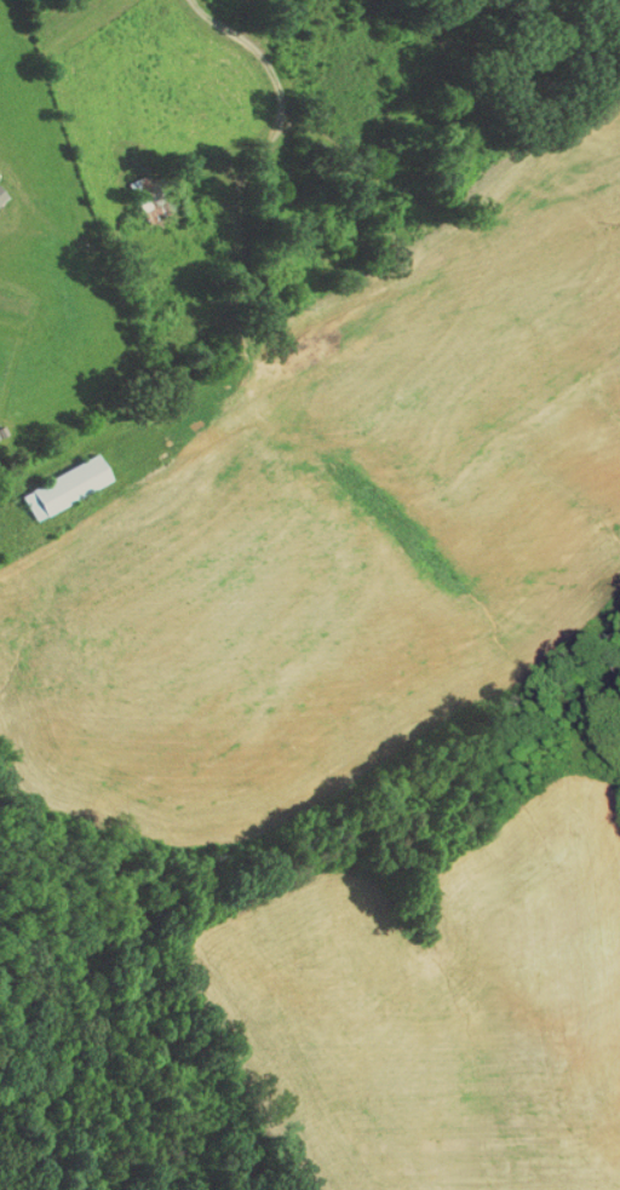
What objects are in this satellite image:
building: (142, 200)
building: (56, 478)

